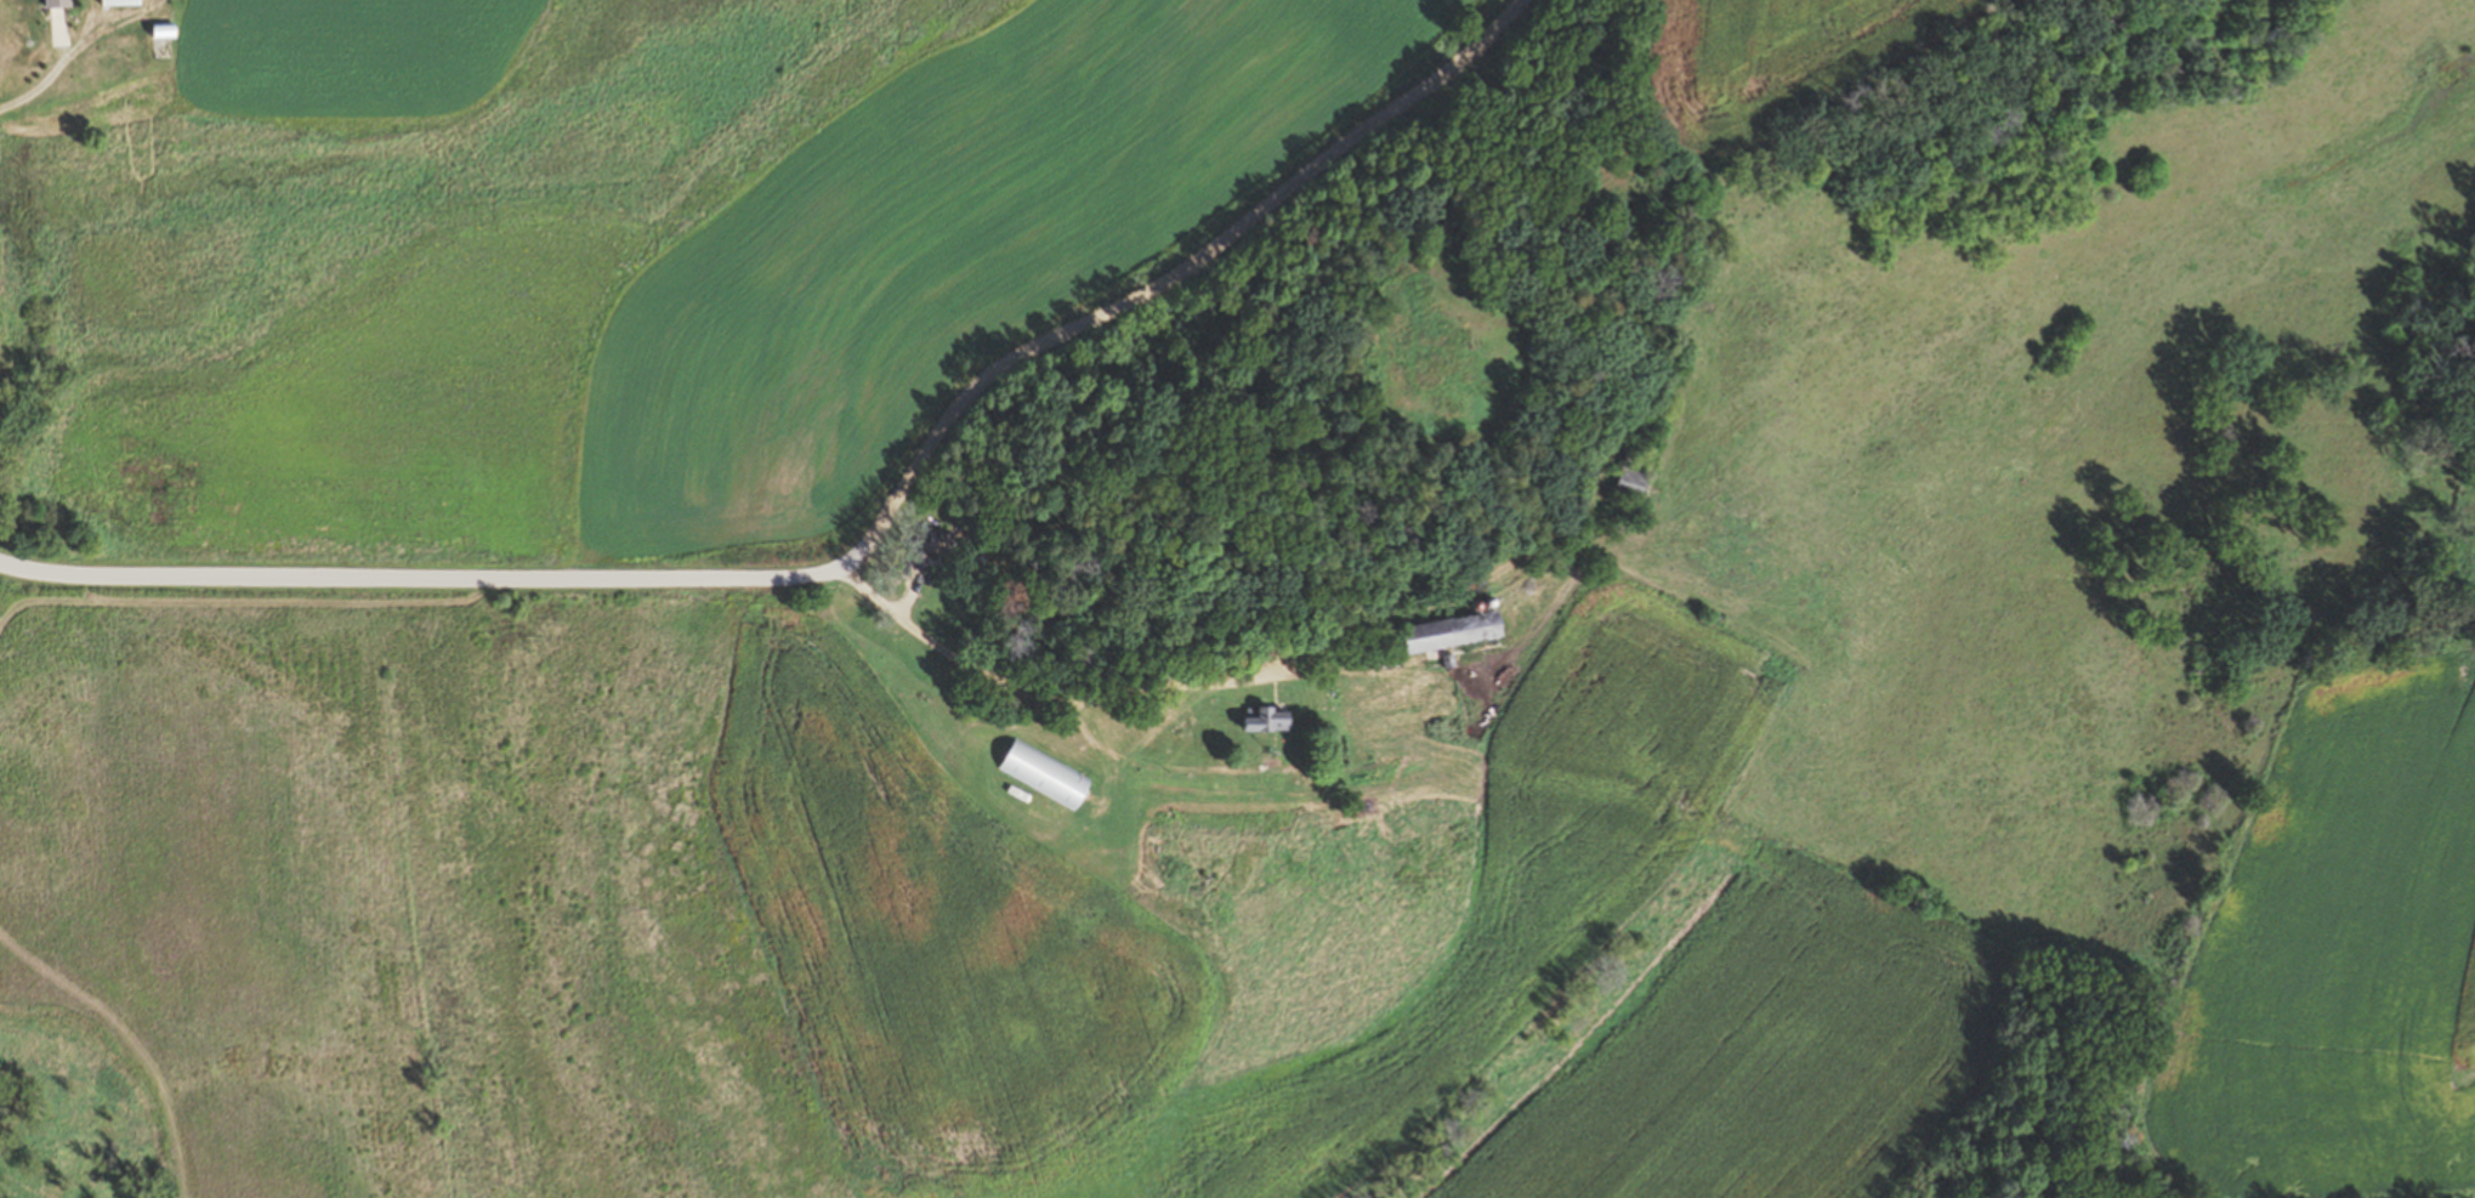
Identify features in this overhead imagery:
building: (59, 2)
building: (123, 2)
building: (168, 34)
building: (1634, 482)
building: (936, 543)
road: (858, 550)
building: (1458, 632)
road: (1045, 662)
building: (1271, 721)
building: (1048, 777)

